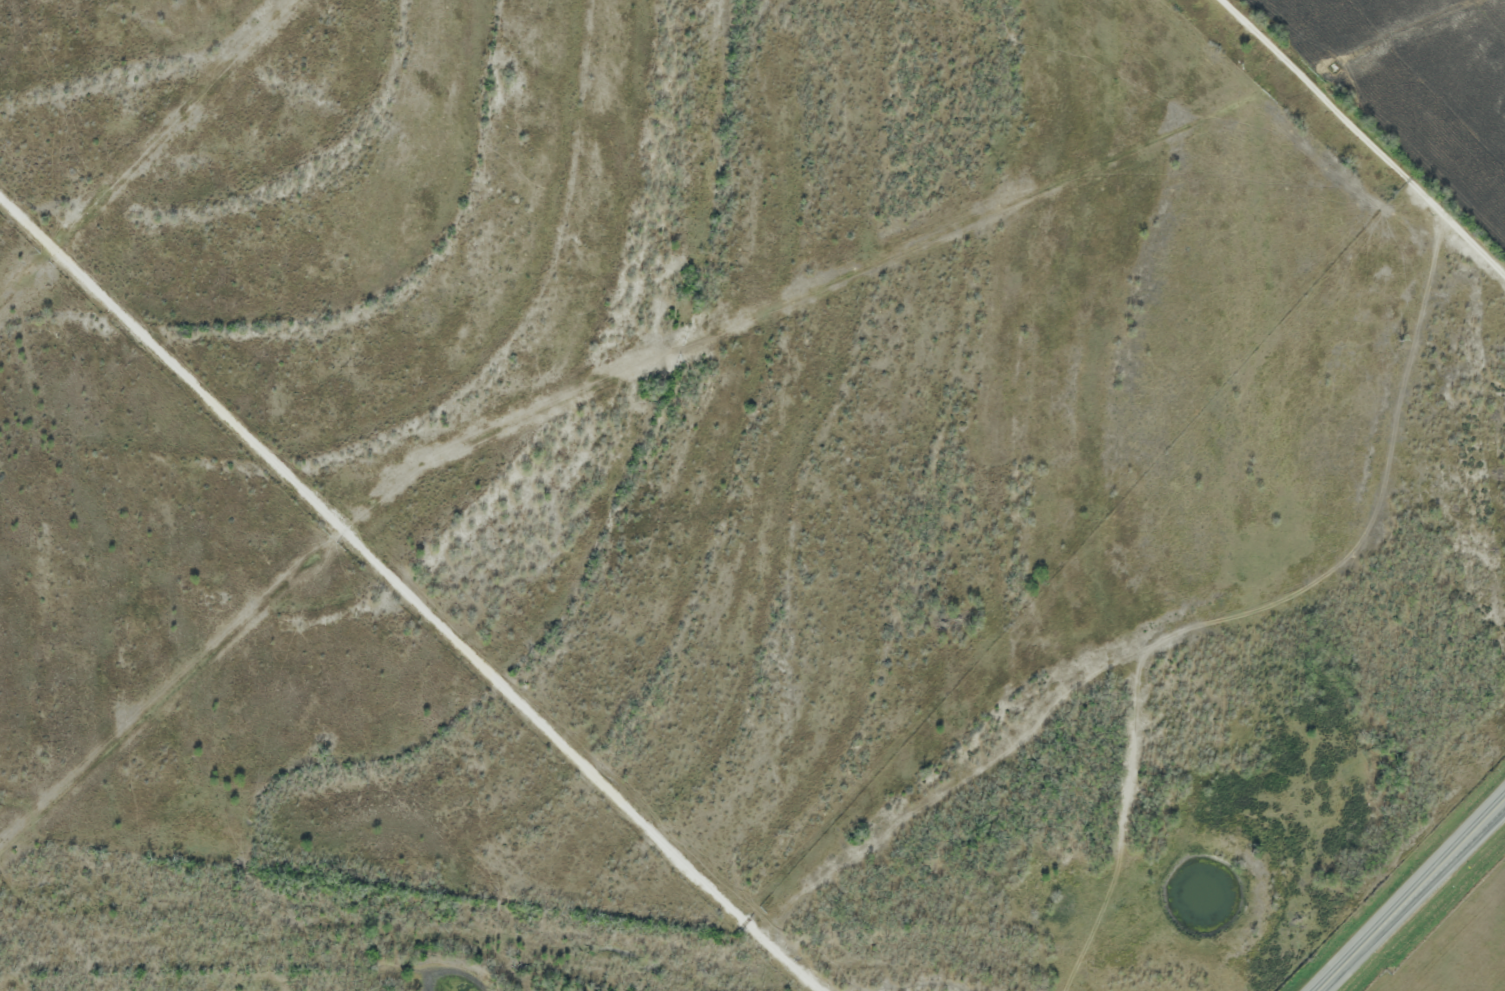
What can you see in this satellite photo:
road: (1338, 122)
road: (1479, 257)
road: (1243, 635)
road: (1414, 898)

